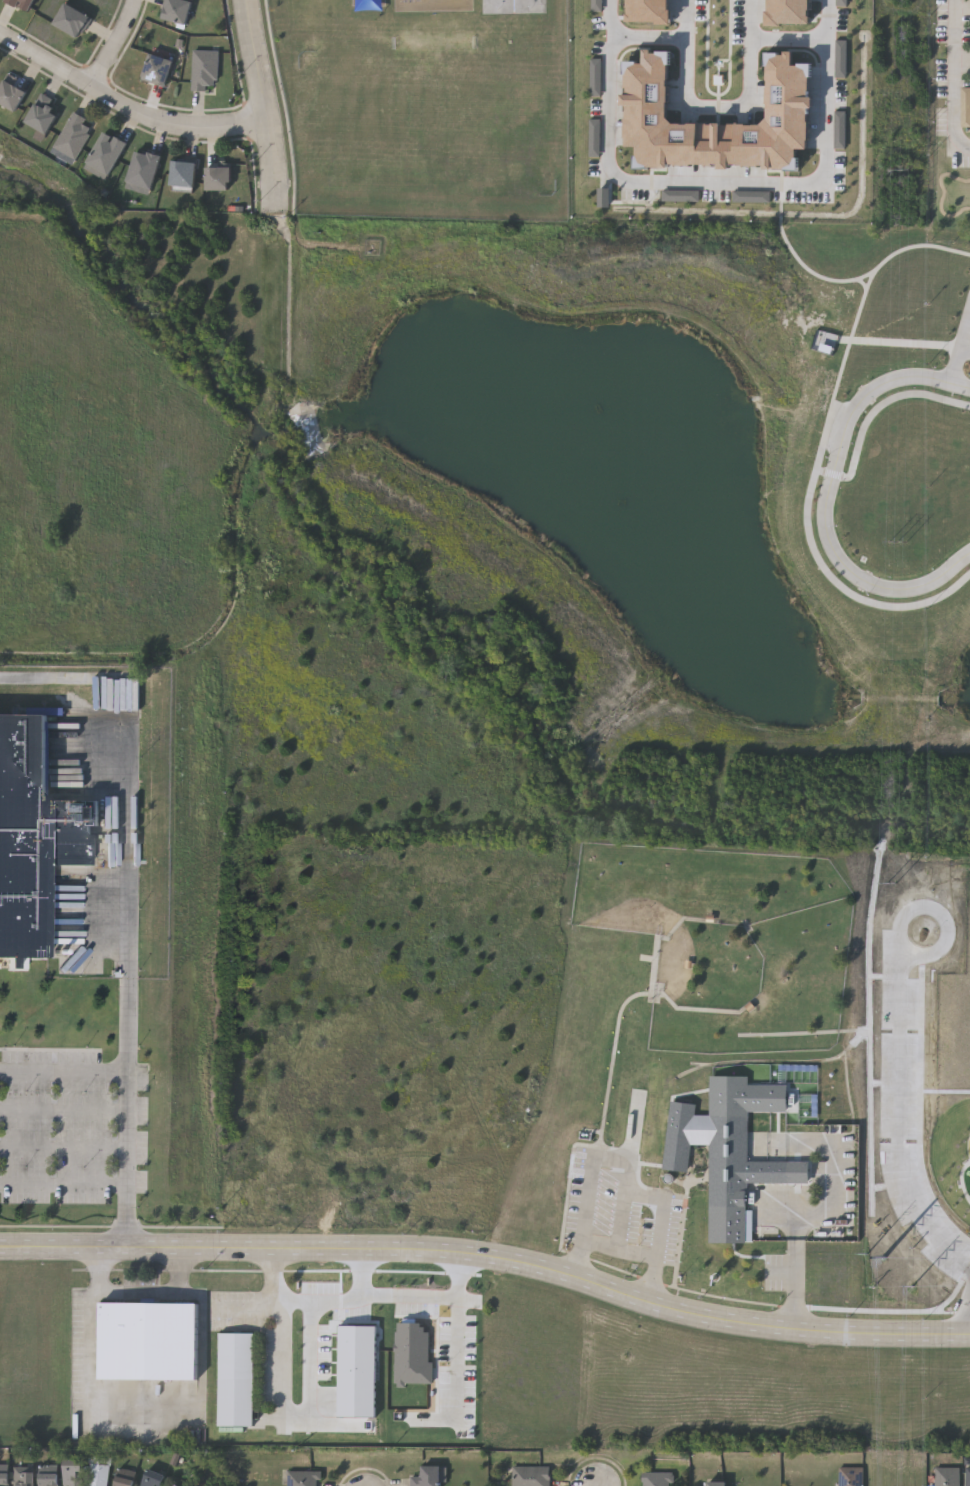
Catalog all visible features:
building: (22, 4)
building: (499, 7)
building: (177, 11)
building: (649, 11)
building: (793, 14)
building: (72, 20)
road: (649, 34)
road: (787, 35)
road: (114, 42)
building: (157, 69)
building: (204, 70)
road: (953, 76)
building: (11, 94)
building: (789, 94)
road: (268, 104)
road: (719, 105)
road: (127, 106)
building: (43, 113)
building: (74, 135)
building: (105, 155)
building: (144, 168)
building: (183, 173)
building: (218, 178)
road: (718, 179)
road: (961, 352)
road: (827, 495)
road: (131, 814)
building: (32, 834)
road: (655, 969)
road: (613, 1064)
road: (127, 1091)
road: (63, 1106)
road: (63, 1146)
building: (717, 1153)
road: (628, 1178)
road: (63, 1182)
road: (831, 1201)
parking lot: (623, 1217)
road: (625, 1225)
road: (127, 1247)
road: (275, 1247)
road: (364, 1248)
road: (489, 1249)
road: (461, 1253)
road: (624, 1254)
road: (489, 1264)
road: (363, 1274)
power tower: (899, 1278)
road: (579, 1279)
road: (796, 1281)
road: (139, 1293)
road: (383, 1294)
road: (653, 1303)
road: (247, 1308)
road: (794, 1328)
road: (969, 1333)
building: (147, 1340)
road: (455, 1356)
building: (234, 1377)
road: (281, 1412)
road: (153, 1423)
building: (71, 1473)
building: (96, 1474)
building: (849, 1476)
building: (946, 1476)
building: (967, 1476)
building: (427, 1477)
building: (534, 1477)
building: (23, 1478)
building: (124, 1478)
building: (301, 1478)
building: (4, 1479)
building: (150, 1479)
building: (655, 1479)
building: (46, 1480)
building: (715, 1484)

